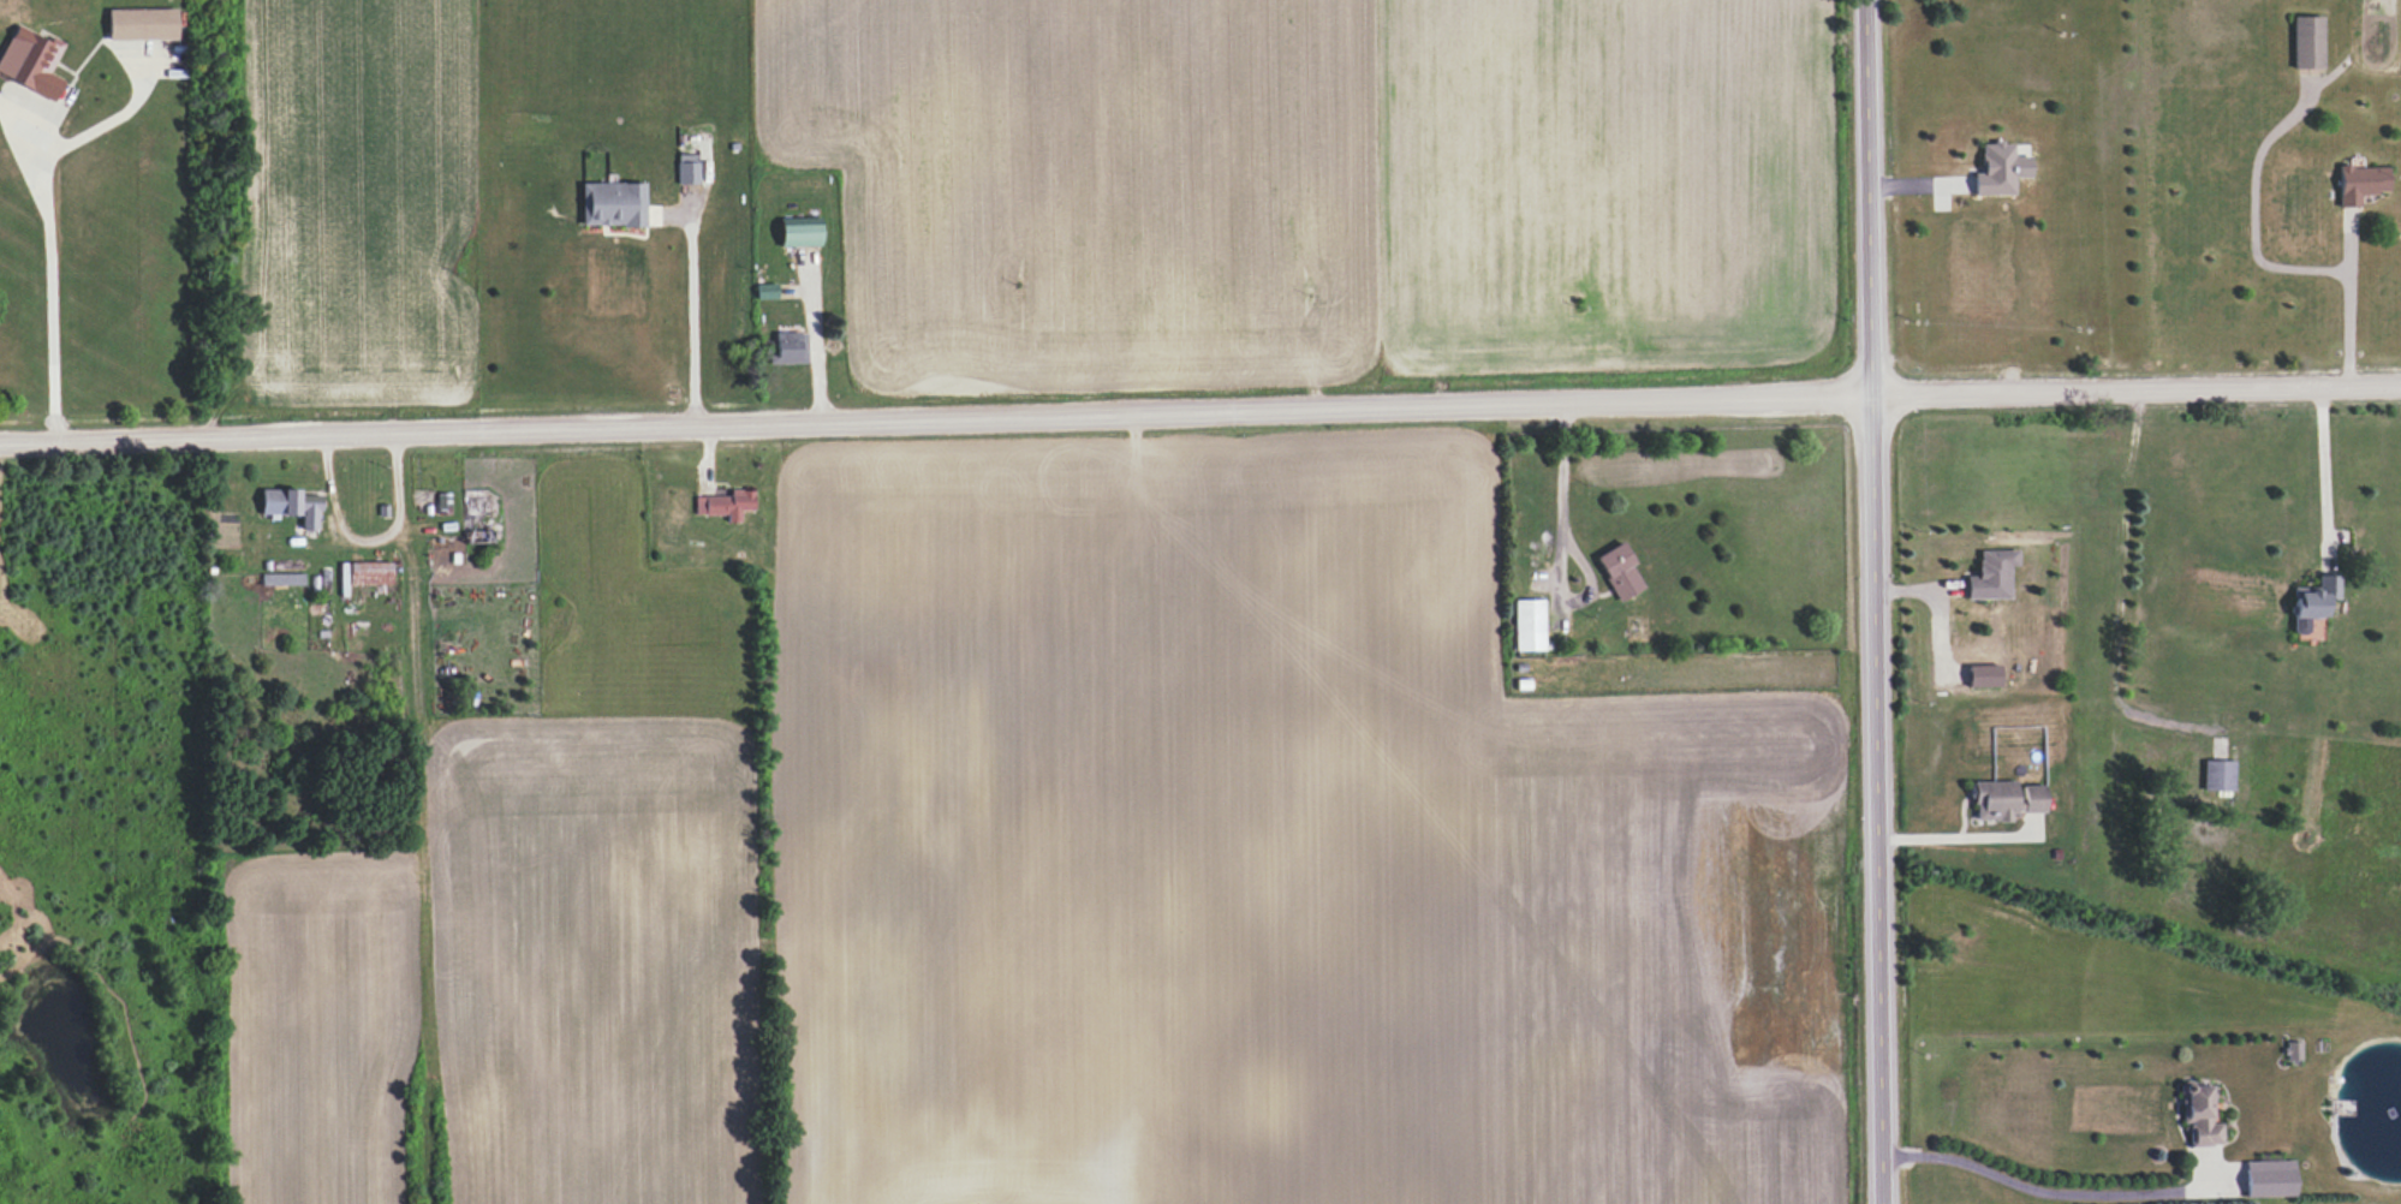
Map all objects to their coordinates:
building: (142, 24)
building: (2307, 42)
building: (30, 61)
building: (687, 168)
building: (1998, 169)
building: (2359, 183)
road: (1872, 196)
building: (612, 204)
road: (2252, 205)
building: (799, 231)
road: (46, 270)
building: (765, 291)
road: (2347, 296)
road: (702, 315)
building: (790, 347)
road: (1200, 409)
road: (2323, 469)
road: (1560, 487)
building: (725, 505)
building: (293, 506)
road: (367, 541)
building: (369, 572)
building: (1619, 572)
building: (1990, 574)
building: (281, 579)
building: (2312, 601)
building: (1527, 625)
building: (2218, 775)
road: (1881, 797)
building: (2004, 799)
road: (1959, 836)
building: (2293, 1050)
building: (2199, 1115)
building: (2269, 1179)
road: (2054, 1193)

